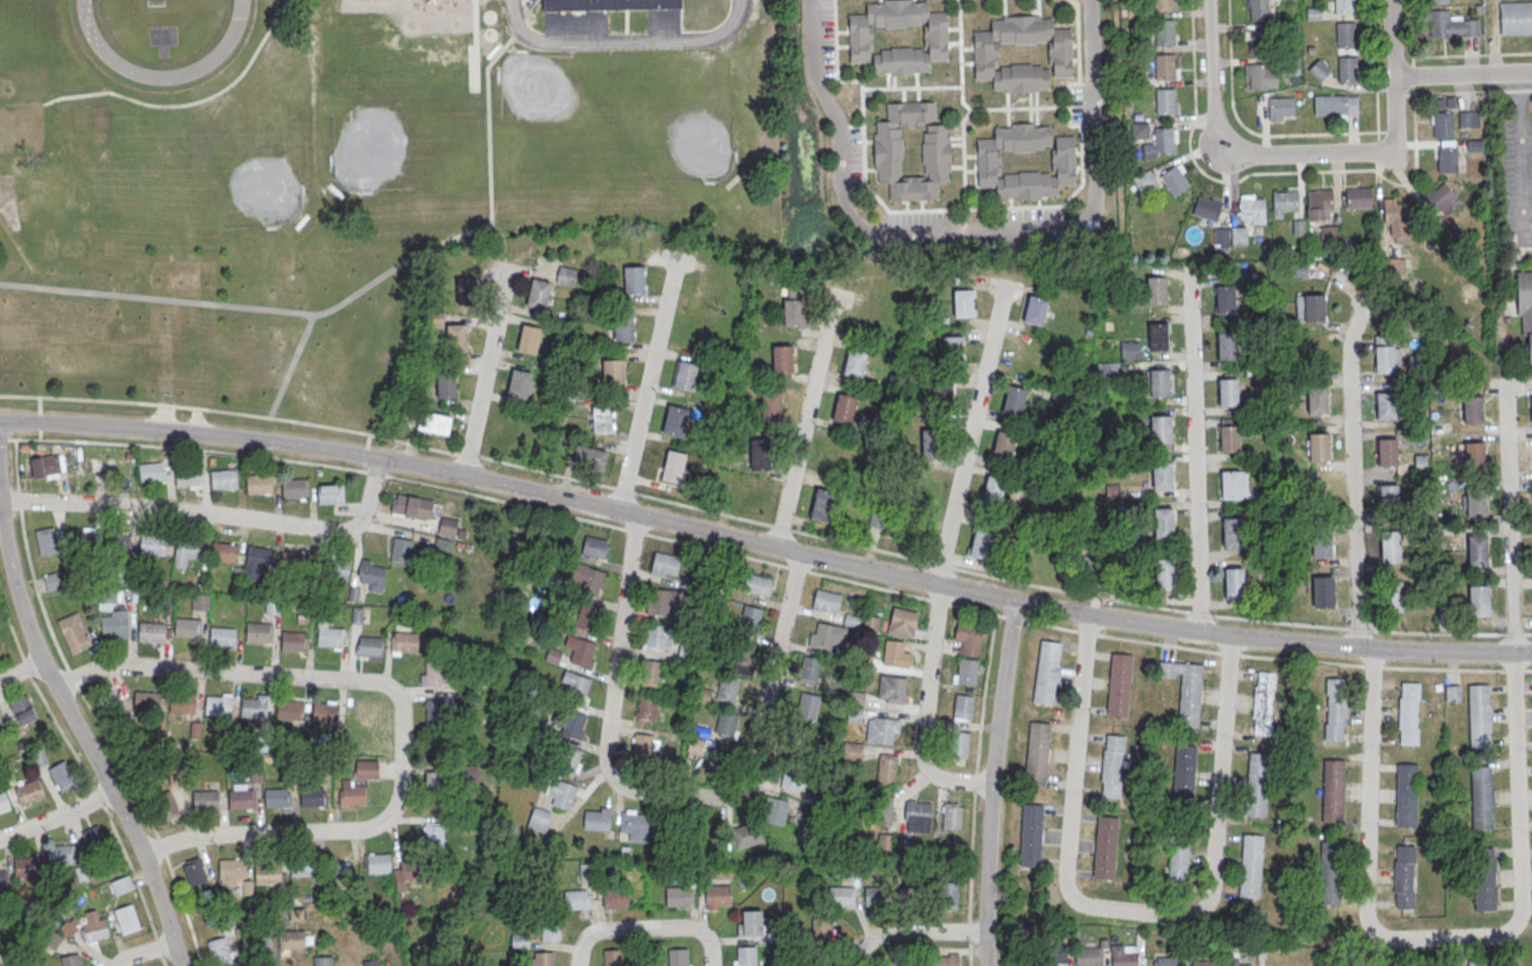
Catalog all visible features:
building: (1288, 0)
building: (1439, 1)
park: (150, 3)
building: (607, 4)
building: (1165, 4)
building: (1344, 6)
building: (1258, 9)
building: (1135, 11)
building: (1314, 15)
building: (1514, 18)
road: (1209, 19)
building: (1451, 26)
building: (1289, 28)
building: (1163, 31)
road: (1412, 32)
track: (162, 33)
building: (1347, 36)
building: (860, 37)
road: (623, 40)
building: (1259, 42)
building: (984, 54)
road: (1472, 56)
building: (1165, 66)
building: (1291, 67)
building: (1348, 70)
building: (1320, 71)
building: (1138, 75)
road: (1463, 75)
building: (1261, 77)
building: (1166, 101)
building: (1337, 106)
building: (1281, 107)
building: (1468, 119)
building: (1443, 126)
building: (1139, 131)
road: (1310, 135)
building: (1160, 143)
building: (1474, 145)
building: (888, 150)
road: (1325, 153)
road: (1522, 157)
building: (1448, 159)
building: (1062, 160)
road: (1277, 173)
building: (1144, 181)
building: (1174, 181)
building: (1441, 196)
building: (1359, 198)
building: (1321, 200)
building: (1286, 201)
building: (1207, 209)
building: (1252, 209)
building: (1397, 218)
building: (1298, 227)
road: (963, 230)
building: (1329, 234)
building: (1297, 269)
building: (566, 275)
building: (634, 281)
building: (465, 290)
building: (1157, 291)
building: (538, 294)
building: (1226, 301)
building: (963, 303)
building: (50, 305)
building: (1310, 307)
building: (1035, 309)
building: (794, 312)
building: (1526, 315)
building: (863, 318)
building: (624, 327)
building: (455, 337)
building: (1158, 338)
building: (529, 340)
building: (1228, 347)
building: (953, 349)
building: (1129, 350)
building: (1023, 354)
building: (782, 358)
building: (1385, 360)
building: (853, 363)
building: (1413, 363)
building: (1110, 368)
road: (485, 370)
building: (614, 374)
building: (686, 377)
road: (647, 383)
building: (446, 384)
building: (1159, 384)
building: (519, 385)
building: (1229, 393)
building: (942, 394)
building: (1059, 394)
building: (1013, 400)
building: (1318, 402)
building: (771, 404)
building: (1387, 407)
building: (843, 408)
building: (1531, 409)
building: (1474, 410)
road: (805, 418)
building: (602, 420)
building: (676, 421)
building: (435, 422)
building: (1161, 431)
road: (969, 432)
building: (1230, 440)
building: (927, 442)
building: (1003, 445)
road: (1195, 446)
building: (1319, 448)
building: (760, 453)
building: (1388, 453)
building: (833, 454)
building: (589, 456)
building: (1476, 457)
building: (47, 466)
building: (79, 466)
building: (117, 467)
building: (674, 467)
building: (151, 471)
road: (1351, 476)
building: (188, 477)
building: (1163, 477)
building: (223, 478)
building: (259, 483)
building: (1232, 486)
building: (918, 487)
building: (295, 488)
building: (993, 490)
building: (330, 493)
building: (1390, 500)
building: (822, 503)
building: (1478, 503)
building: (411, 505)
road: (214, 516)
building: (883, 519)
road: (1508, 520)
road: (764, 522)
building: (1164, 525)
building: (447, 526)
building: (1233, 534)
building: (116, 539)
building: (47, 541)
building: (981, 542)
building: (1323, 543)
building: (442, 544)
building: (153, 545)
road: (764, 545)
building: (595, 546)
building: (1391, 546)
building: (401, 550)
building: (1478, 550)
building: (224, 551)
building: (186, 552)
building: (295, 559)
building: (256, 560)
road: (765, 560)
building: (665, 564)
building: (1085, 565)
building: (336, 567)
building: (372, 574)
building: (1165, 575)
building: (586, 579)
building: (52, 580)
building: (758, 584)
building: (1235, 585)
building: (1323, 593)
building: (109, 596)
building: (1393, 598)
building: (826, 600)
building: (1480, 600)
building: (200, 601)
building: (660, 602)
building: (585, 616)
building: (752, 619)
building: (903, 622)
building: (114, 623)
building: (871, 625)
building: (188, 629)
building: (73, 632)
building: (259, 633)
building: (152, 634)
building: (827, 635)
building: (223, 638)
building: (332, 638)
building: (656, 638)
building: (295, 642)
building: (403, 643)
building: (971, 643)
building: (2, 646)
building: (369, 647)
building: (580, 651)
building: (894, 654)
building: (553, 655)
building: (743, 657)
building: (809, 669)
road: (21, 671)
building: (967, 672)
building: (1046, 673)
building: (433, 674)
building: (652, 675)
building: (727, 686)
building: (1119, 686)
building: (576, 687)
building: (897, 691)
building: (1453, 692)
building: (703, 695)
building: (1190, 696)
building: (858, 699)
building: (146, 702)
building: (183, 704)
building: (808, 704)
building: (1264, 705)
building: (219, 707)
building: (254, 708)
road: (399, 708)
building: (964, 708)
building: (22, 709)
building: (648, 710)
building: (1335, 710)
building: (290, 711)
building: (434, 711)
road: (924, 712)
building: (326, 714)
building: (1409, 714)
building: (855, 715)
building: (1480, 717)
building: (726, 722)
building: (1, 723)
building: (571, 724)
building: (700, 731)
building: (882, 731)
road: (83, 739)
building: (695, 745)
building: (959, 746)
building: (642, 748)
building: (853, 753)
building: (40, 756)
building: (1037, 756)
building: (718, 760)
building: (569, 761)
building: (1113, 767)
building: (366, 768)
building: (888, 768)
building: (61, 775)
building: (433, 777)
building: (791, 778)
building: (1183, 778)
road: (992, 782)
building: (1258, 785)
building: (351, 792)
building: (1333, 792)
building: (29, 793)
road: (662, 793)
building: (561, 794)
building: (277, 796)
building: (313, 796)
building: (1407, 796)
building: (241, 797)
building: (205, 798)
building: (1483, 798)
building: (433, 801)
building: (4, 803)
building: (167, 804)
building: (886, 805)
building: (775, 811)
road: (56, 815)
building: (952, 815)
building: (917, 816)
building: (596, 818)
building: (538, 819)
building: (634, 823)
building: (433, 832)
building: (93, 835)
building: (743, 836)
building: (1032, 836)
building: (1106, 849)
building: (62, 853)
building: (1179, 858)
building: (377, 861)
building: (26, 866)
building: (303, 866)
building: (1252, 866)
building: (194, 871)
building: (585, 871)
building: (232, 872)
building: (267, 873)
building: (1330, 874)
building: (1404, 877)
building: (2, 878)
building: (1485, 881)
building: (121, 884)
building: (950, 894)
building: (842, 895)
building: (872, 895)
building: (678, 897)
building: (717, 897)
building: (618, 899)
building: (576, 901)
road: (1131, 911)
building: (296, 913)
building: (126, 918)
building: (752, 925)
building: (94, 926)
road: (648, 928)
building: (551, 929)
road: (910, 932)
building: (294, 938)
road: (1437, 938)
building: (519, 940)
building: (219, 948)
building: (1059, 952)
road: (142, 954)
building: (678, 957)
building: (746, 957)
building: (1089, 957)
building: (613, 958)
building: (945, 959)
building: (1126, 959)
building: (70, 960)
building: (545, 960)
building: (323, 961)
building: (372, 962)
building: (1166, 962)
building: (1237, 962)
building: (822, 963)
building: (891, 964)
building: (1203, 964)

